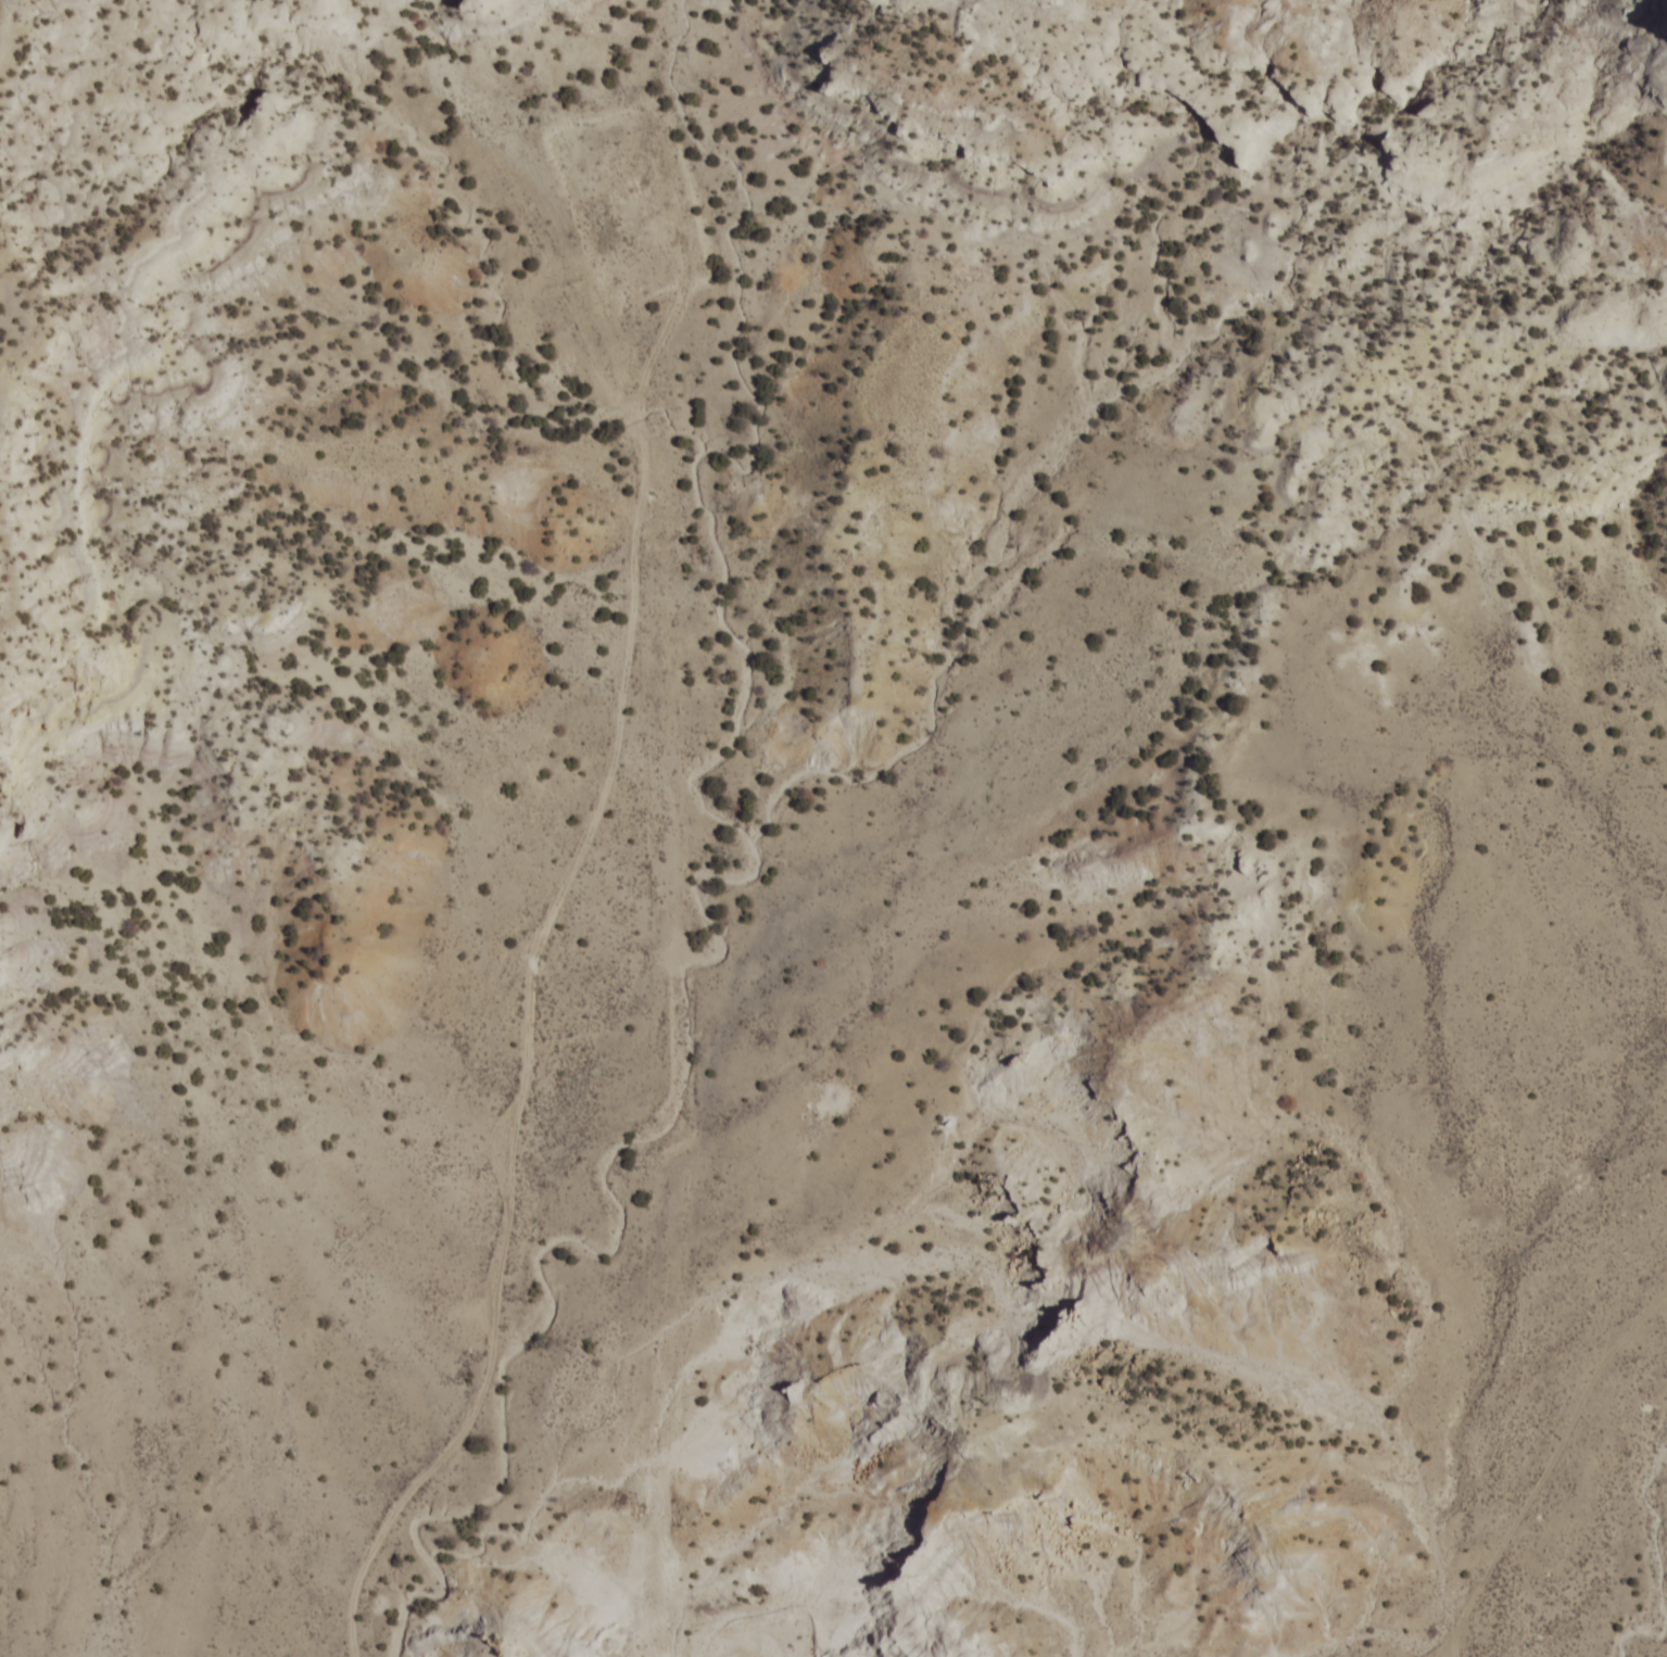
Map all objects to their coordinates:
road: (1545, 1369)

